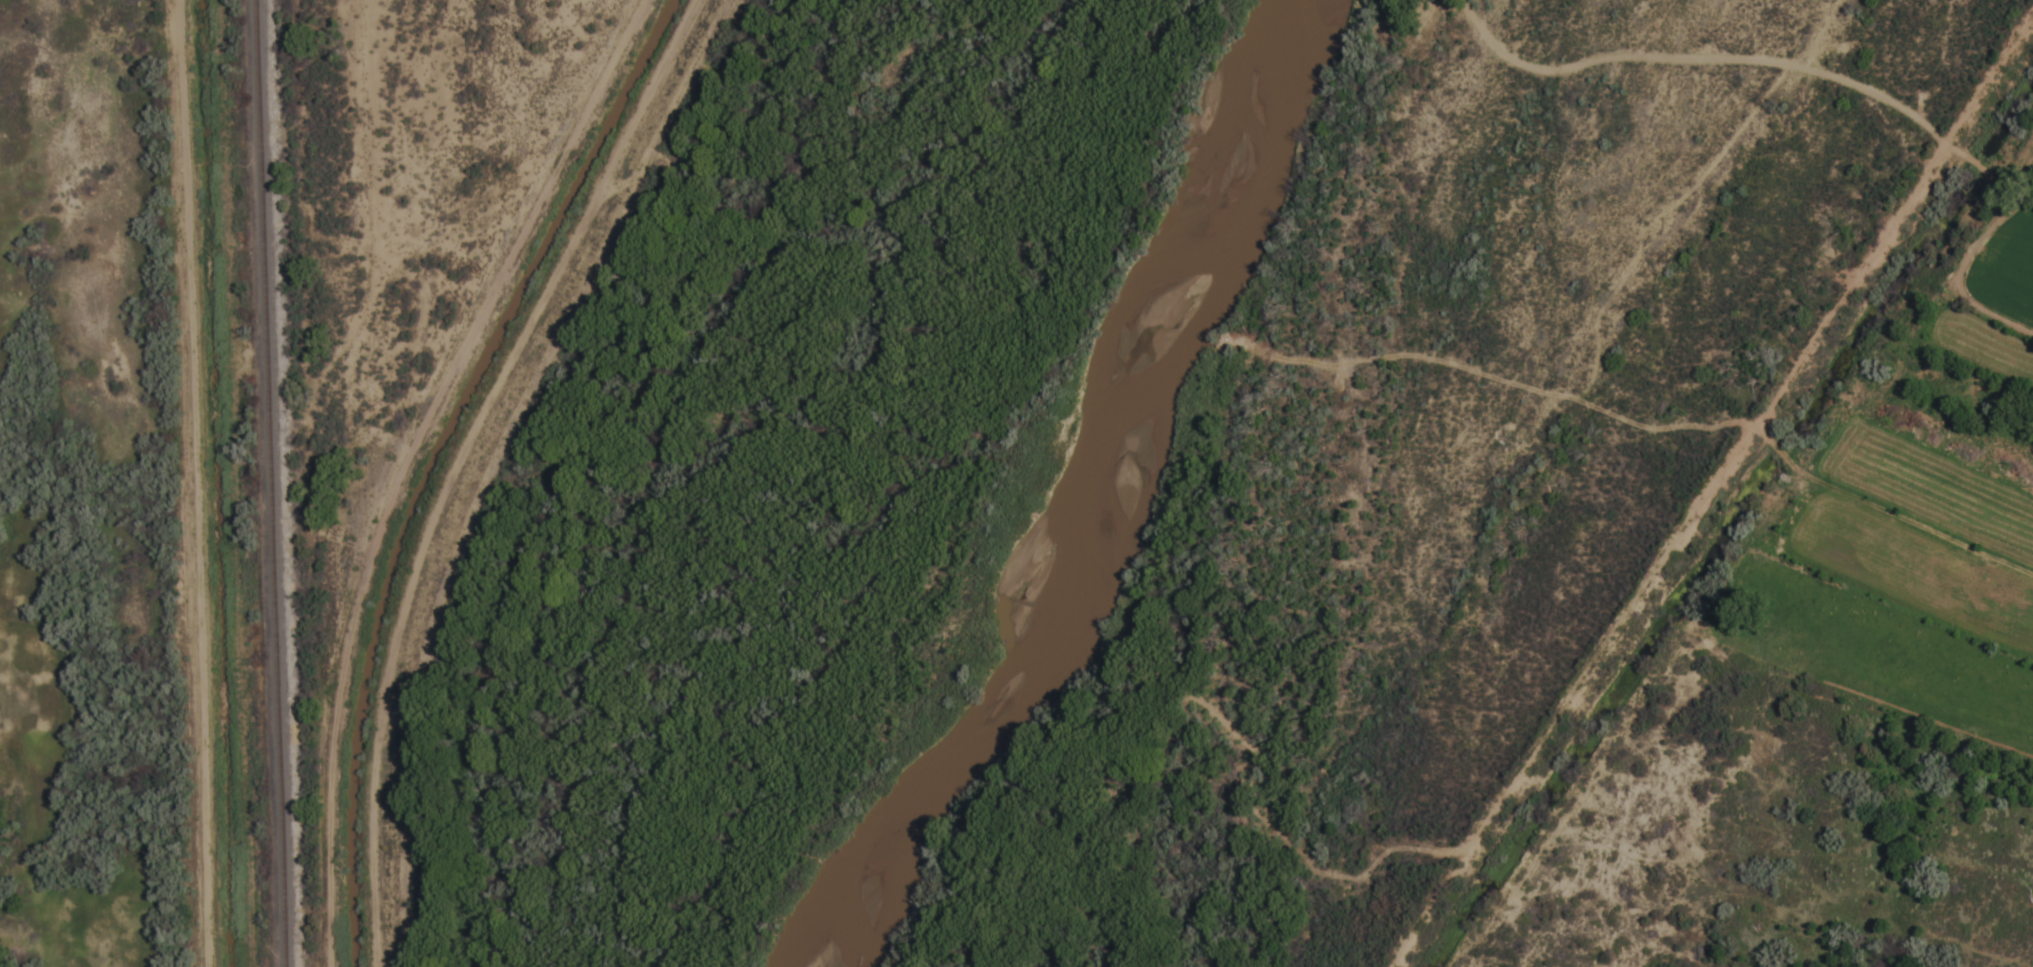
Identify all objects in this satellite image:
road: (380, 199)
road: (307, 300)
road: (197, 483)
railway: (276, 483)
river: (1089, 500)
road: (378, 947)
river: (840, 951)

